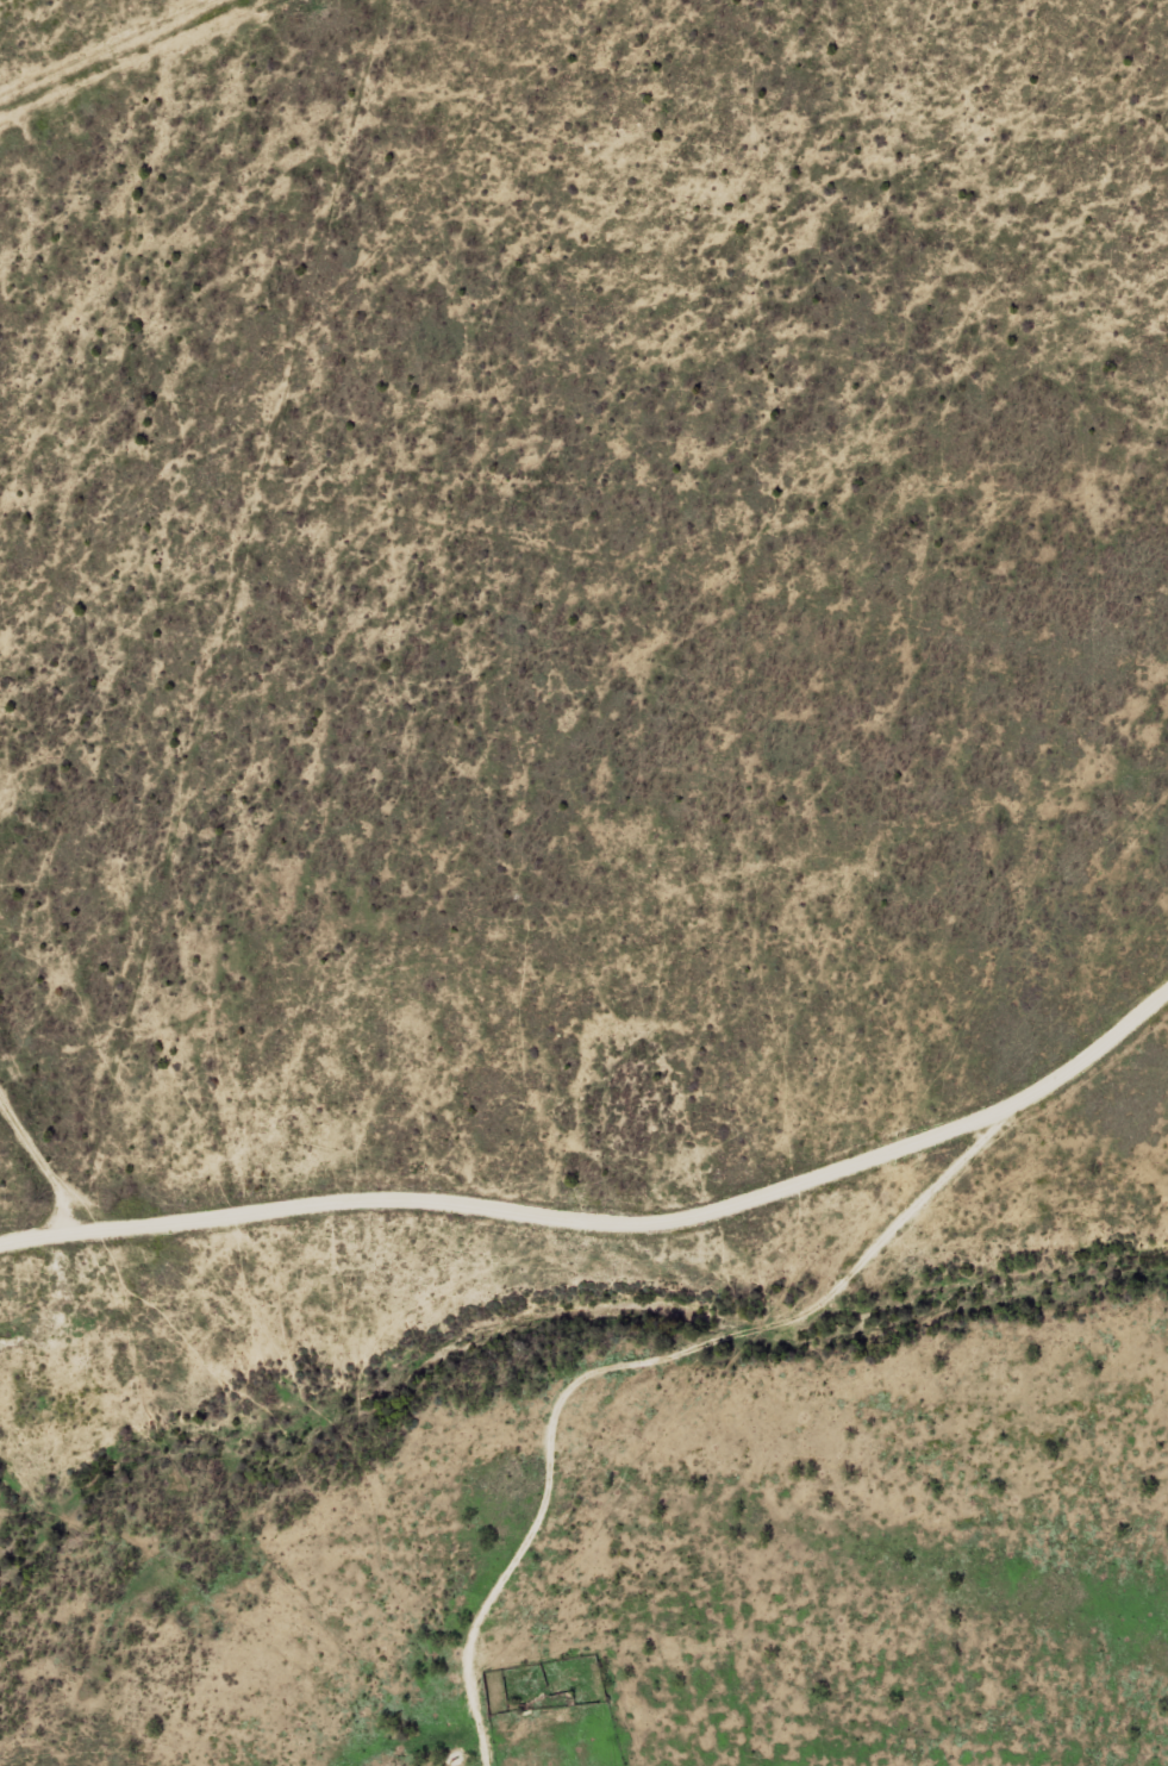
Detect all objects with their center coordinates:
road: (48, 1171)
road: (616, 1236)

